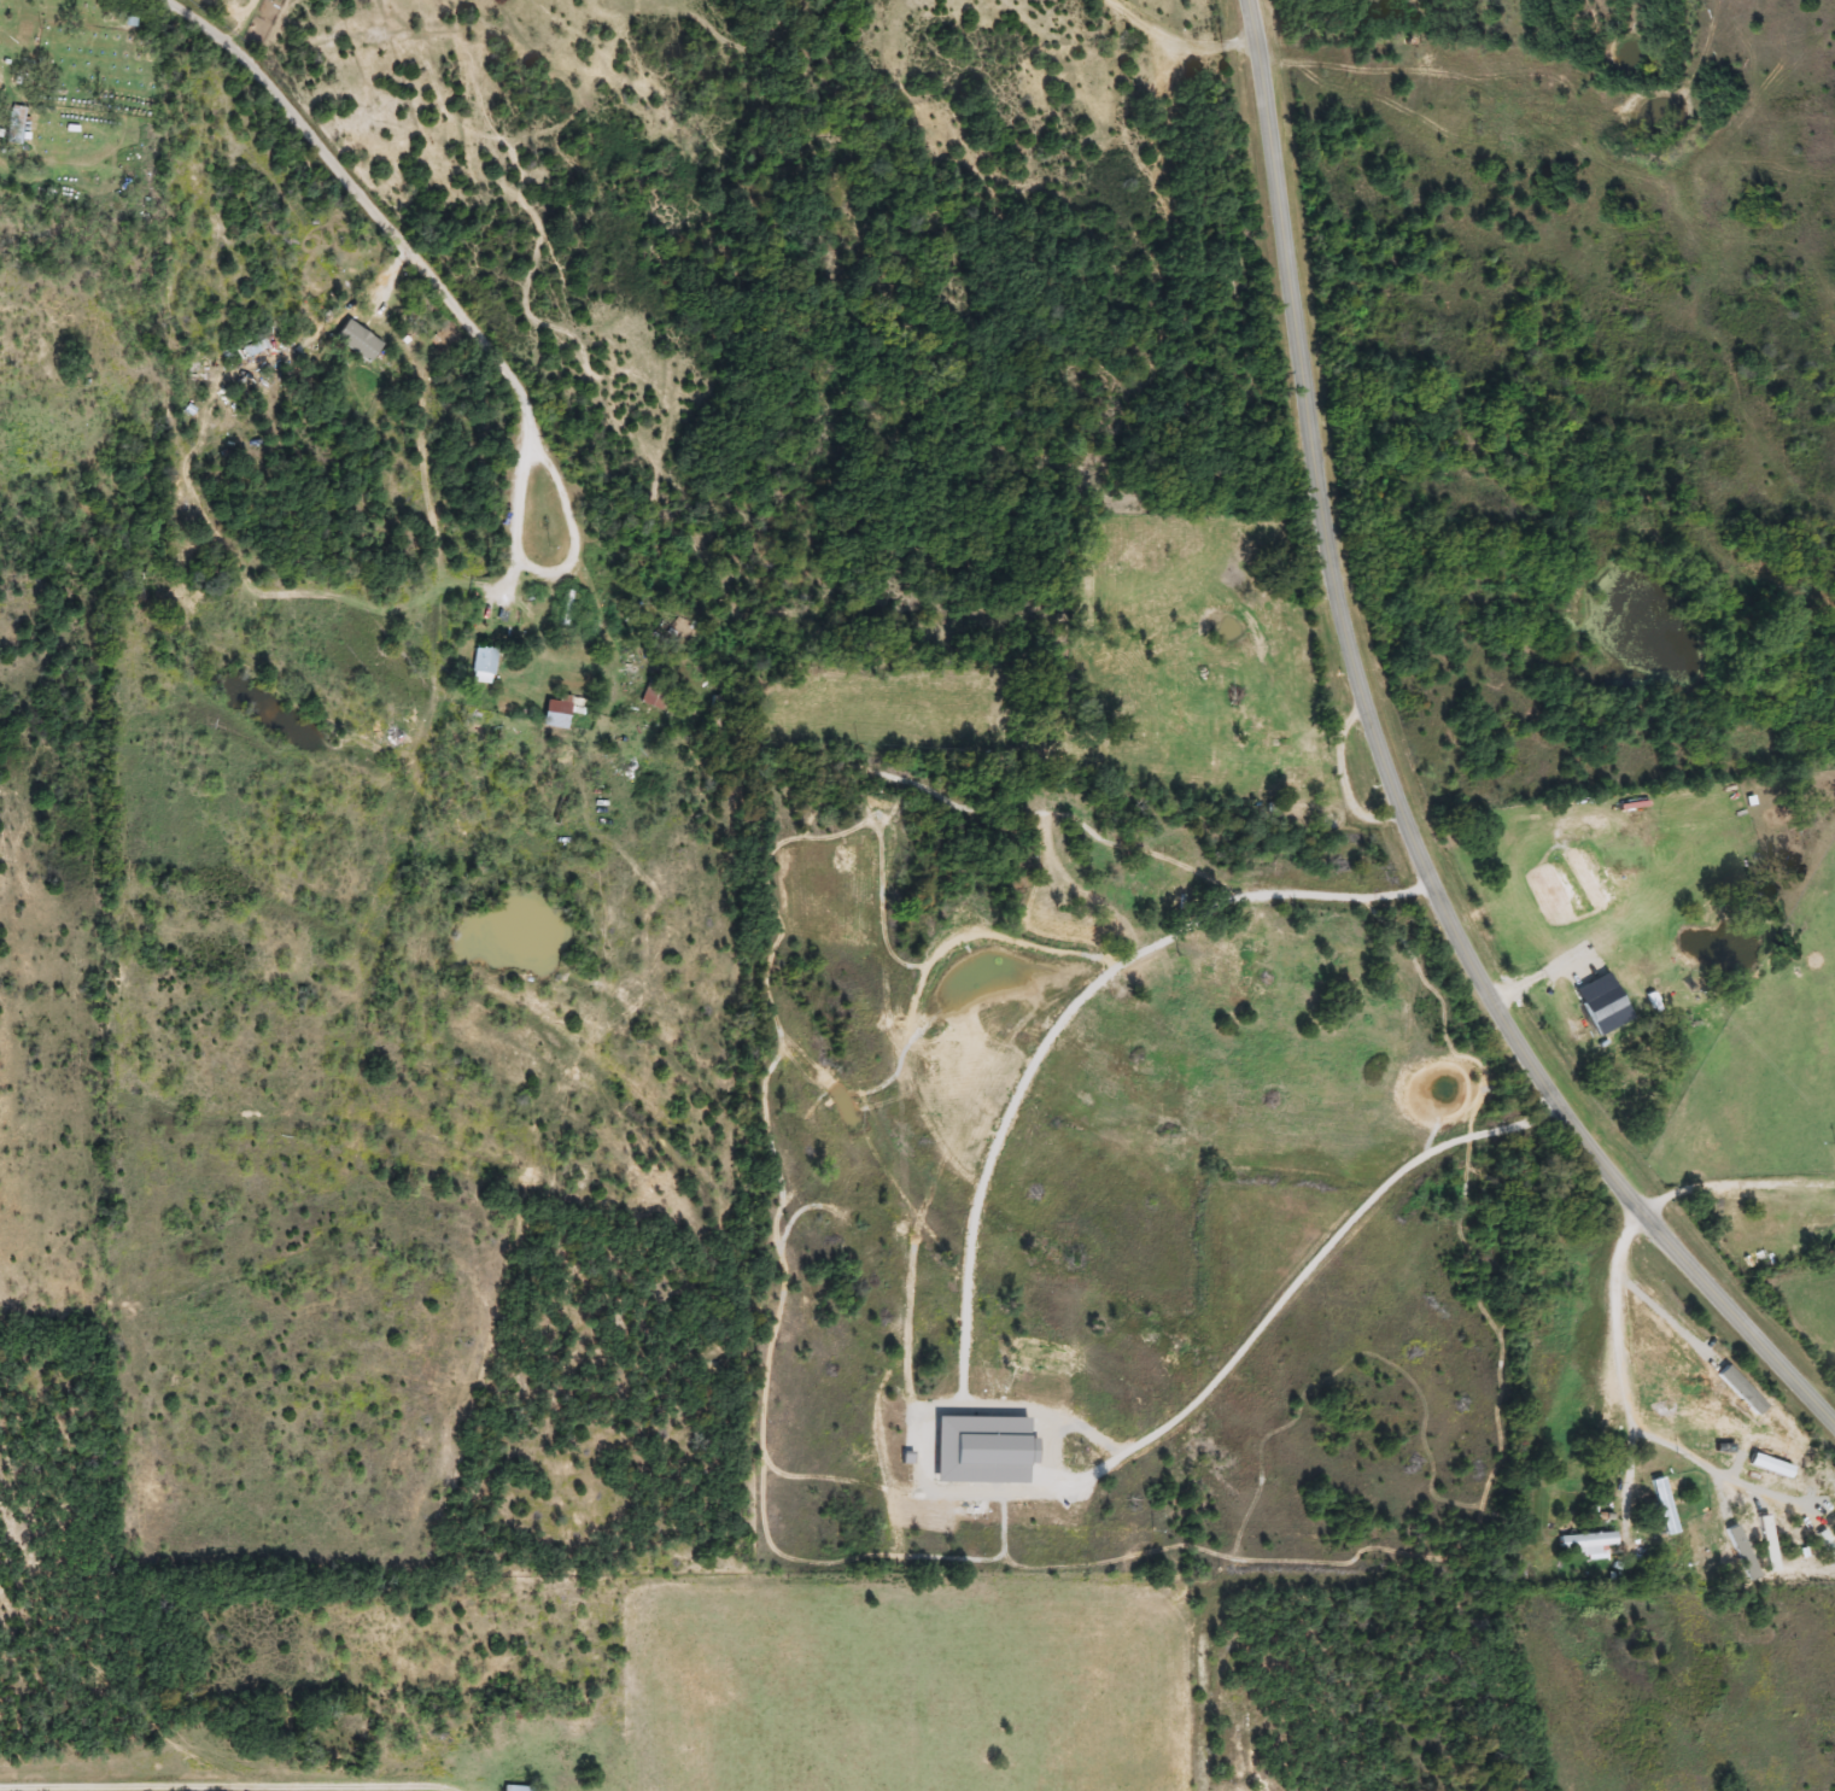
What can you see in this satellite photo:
road: (353, 187)
building: (355, 341)
road: (549, 573)
building: (561, 611)
building: (483, 662)
building: (555, 710)
building: (1299, 777)
road: (1390, 778)
road: (1334, 896)
building: (1165, 897)
road: (1735, 1184)
building: (1816, 1223)
road: (1313, 1268)
road: (1611, 1359)
building: (1661, 1506)
building: (1585, 1540)
road: (130, 1789)
building: (515, 1789)

